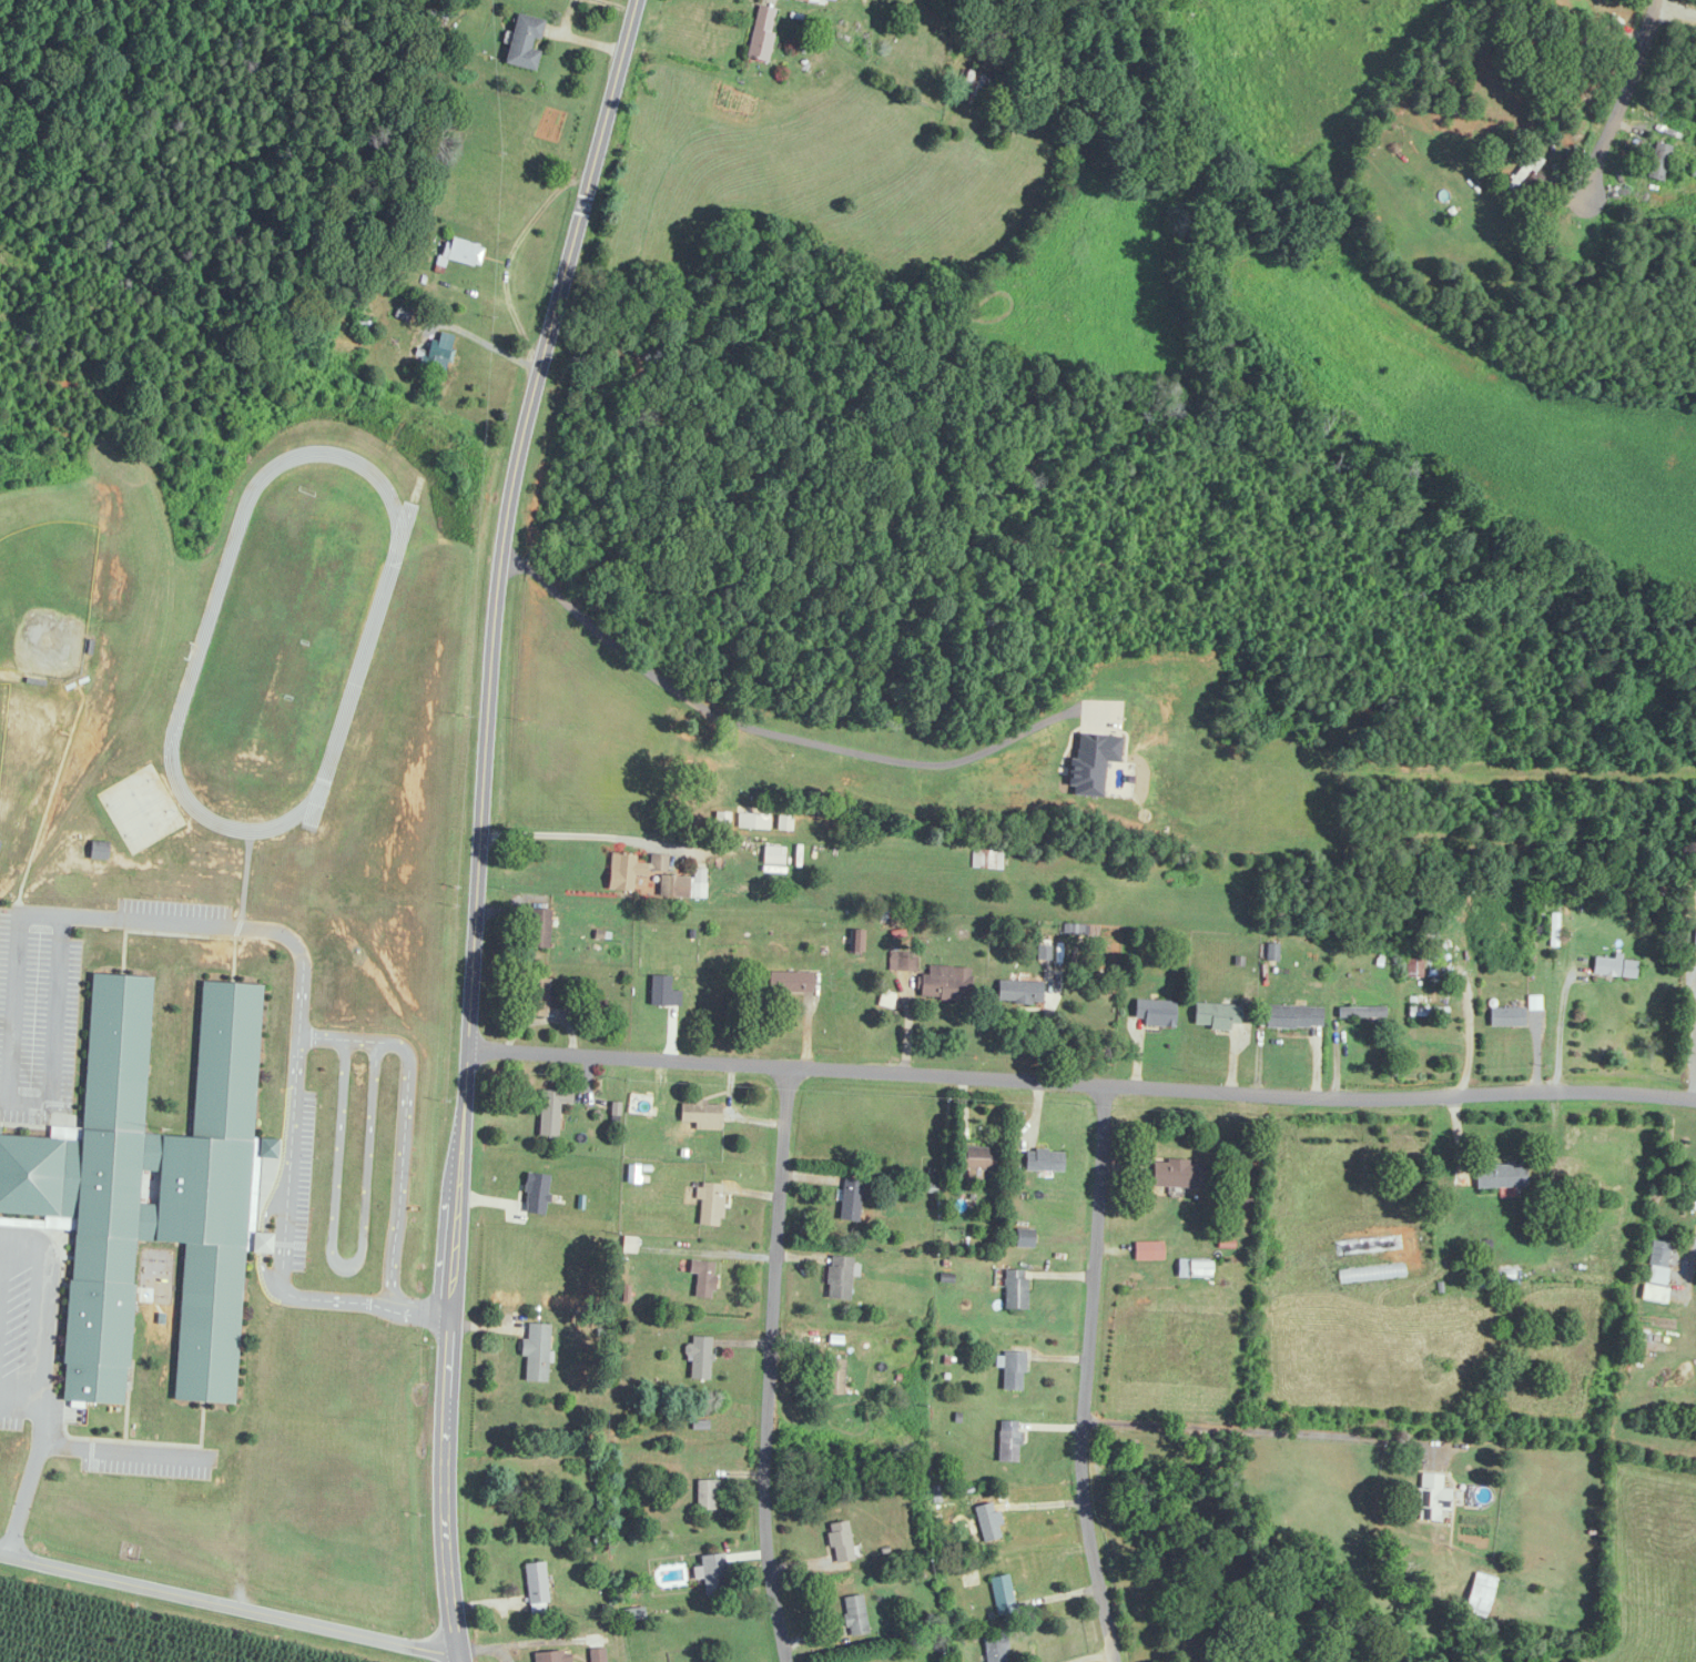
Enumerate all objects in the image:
building: (822, 1)
building: (761, 33)
building: (525, 42)
building: (1572, 57)
building: (979, 85)
road: (1613, 118)
building: (1501, 154)
building: (1659, 161)
building: (1523, 173)
building: (463, 252)
road: (510, 254)
building: (407, 305)
building: (363, 325)
building: (438, 353)
road: (763, 730)
road: (480, 823)
road: (575, 834)
building: (100, 850)
road: (714, 851)
building: (774, 855)
building: (987, 860)
building: (648, 875)
road: (111, 916)
building: (539, 929)
building: (906, 962)
building: (1415, 967)
building: (1615, 967)
building: (791, 983)
building: (945, 983)
building: (1020, 992)
building: (663, 993)
building: (537, 997)
building: (1423, 1011)
building: (1155, 1013)
building: (1361, 1013)
building: (1216, 1016)
building: (1293, 1016)
building: (1506, 1017)
road: (1046, 1025)
road: (1557, 1028)
road: (301, 1036)
road: (1081, 1082)
building: (640, 1105)
building: (551, 1112)
building: (701, 1116)
building: (976, 1158)
building: (1043, 1161)
building: (1177, 1174)
building: (1501, 1176)
building: (151, 1188)
building: (851, 1199)
building: (710, 1205)
building: (1658, 1264)
building: (1194, 1269)
building: (840, 1278)
building: (703, 1279)
building: (1015, 1290)
road: (42, 1304)
road: (419, 1311)
building: (537, 1352)
building: (700, 1358)
road: (765, 1362)
building: (1013, 1371)
road: (1086, 1372)
building: (835, 1378)
road: (20, 1401)
road: (1262, 1429)
building: (1009, 1440)
road: (128, 1452)
road: (30, 1479)
building: (708, 1494)
building: (1433, 1498)
building: (988, 1530)
building: (841, 1542)
building: (714, 1574)
building: (537, 1590)
building: (1003, 1594)
building: (1479, 1599)
road: (230, 1607)
building: (855, 1615)
building: (997, 1649)
building: (598, 1654)
road: (1091, 1655)
building: (554, 1656)

